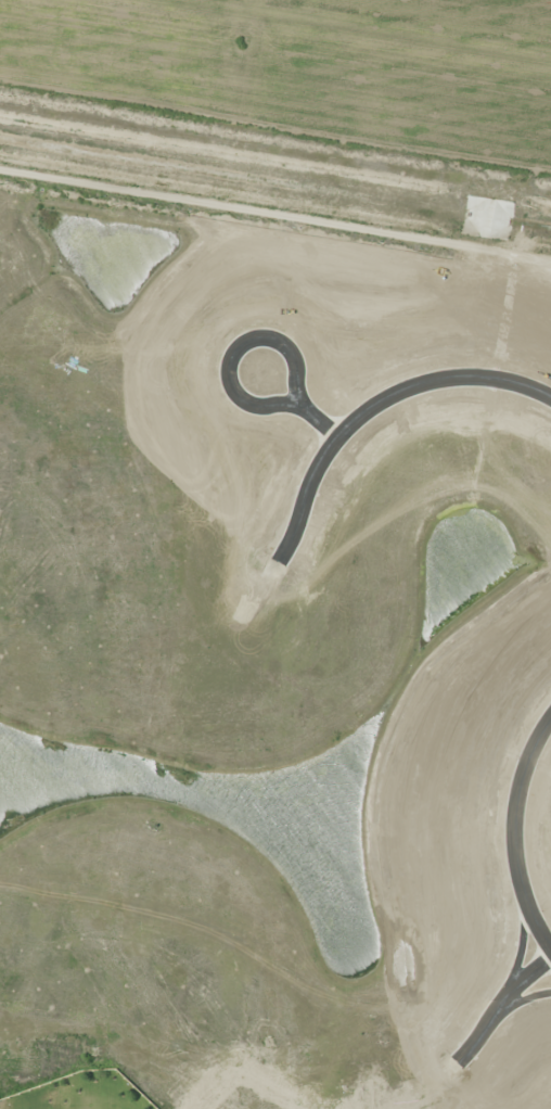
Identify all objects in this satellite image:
road: (257, 333)
road: (358, 413)
road: (514, 832)
park: (85, 1093)

